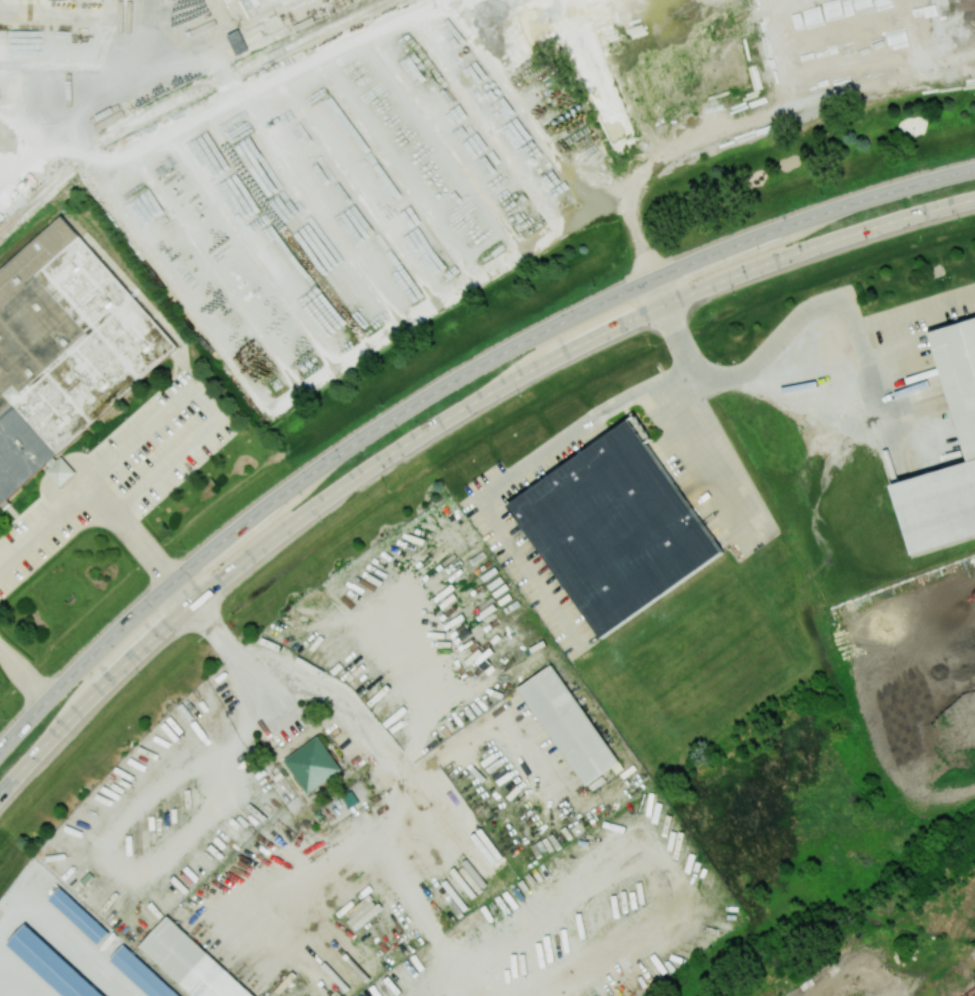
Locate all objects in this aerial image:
road: (91, 98)
railway: (179, 98)
road: (6, 175)
road: (653, 268)
building: (62, 350)
road: (443, 389)
road: (205, 403)
road: (441, 422)
road: (706, 454)
road: (514, 472)
building: (937, 505)
building: (616, 528)
road: (148, 560)
road: (22, 678)
building: (568, 725)
building: (314, 765)
building: (79, 914)
railway: (881, 930)
building: (191, 961)
building: (52, 963)
building: (144, 972)
railway: (969, 991)

